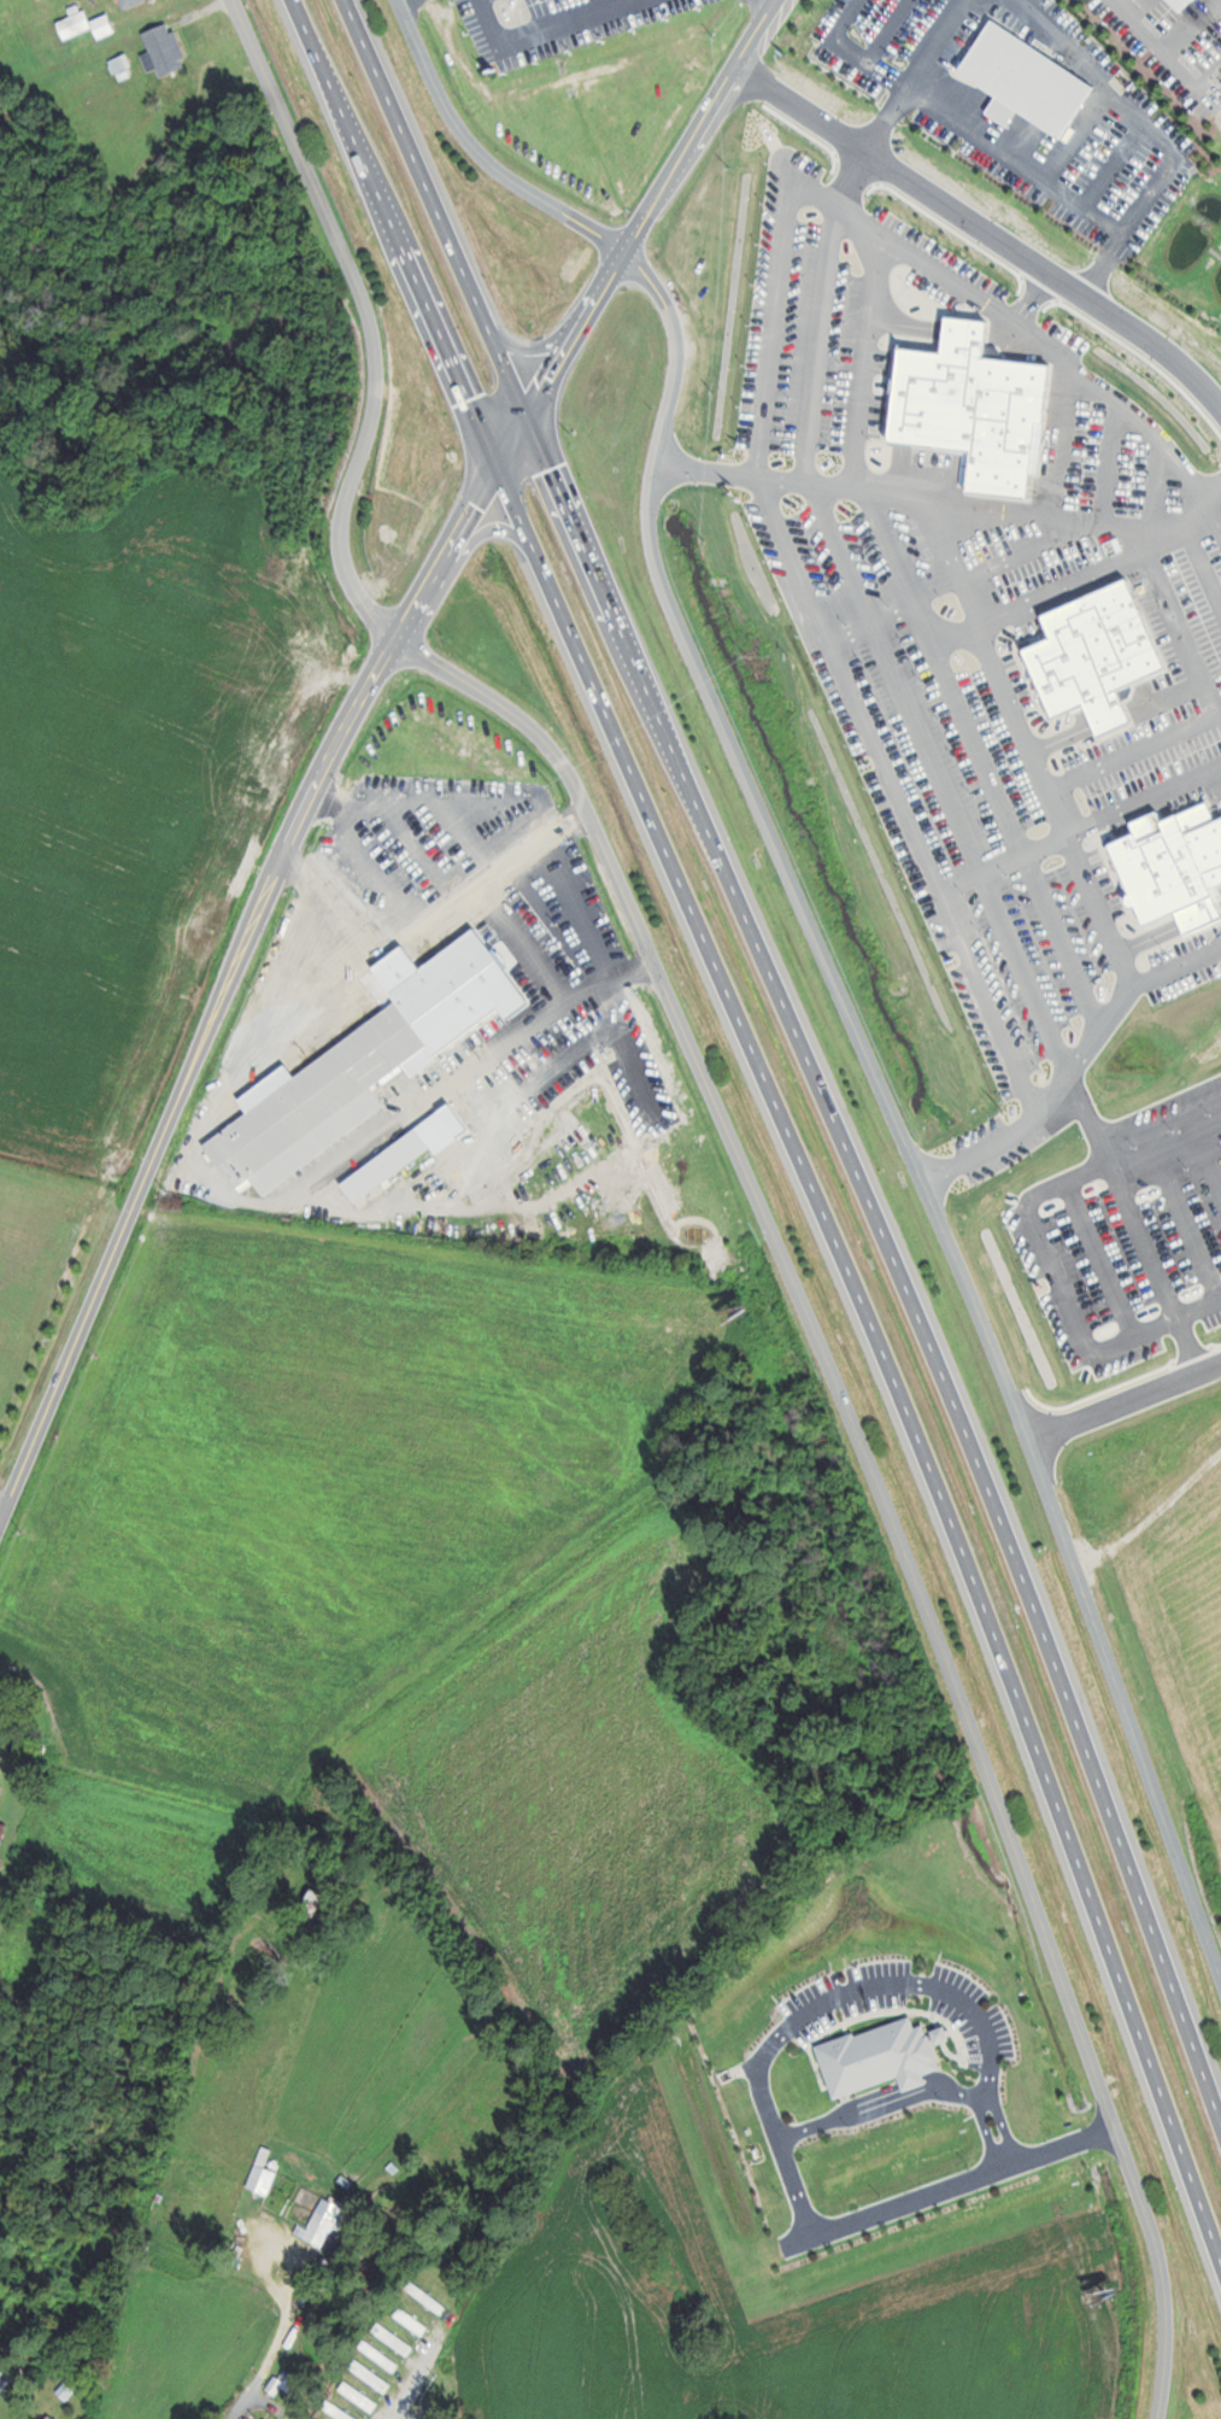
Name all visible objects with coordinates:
building: (131, 2)
road: (780, 2)
building: (76, 24)
road: (938, 42)
building: (166, 48)
road: (886, 118)
road: (1070, 147)
road: (485, 156)
road: (439, 204)
road: (399, 230)
road: (987, 230)
road: (646, 232)
road: (456, 918)
road: (233, 985)
road: (841, 992)
building: (363, 1065)
road: (744, 1161)
road: (283, 1205)
road: (893, 1254)
road: (877, 1353)
road: (5, 1500)
building: (1, 1683)
road: (1178, 1851)
building: (315, 1902)
road: (880, 2107)
road: (1005, 2125)
road: (988, 2132)
road: (779, 2138)
building: (264, 2174)
building: (322, 2224)
building: (429, 2297)
building: (413, 2320)
building: (398, 2339)
road: (278, 2345)
building: (383, 2355)
building: (372, 2376)
road: (416, 2376)
building: (5, 2378)
building: (293, 2382)
building: (360, 2396)
building: (346, 2413)
building: (52, 2417)
building: (250, 2418)

